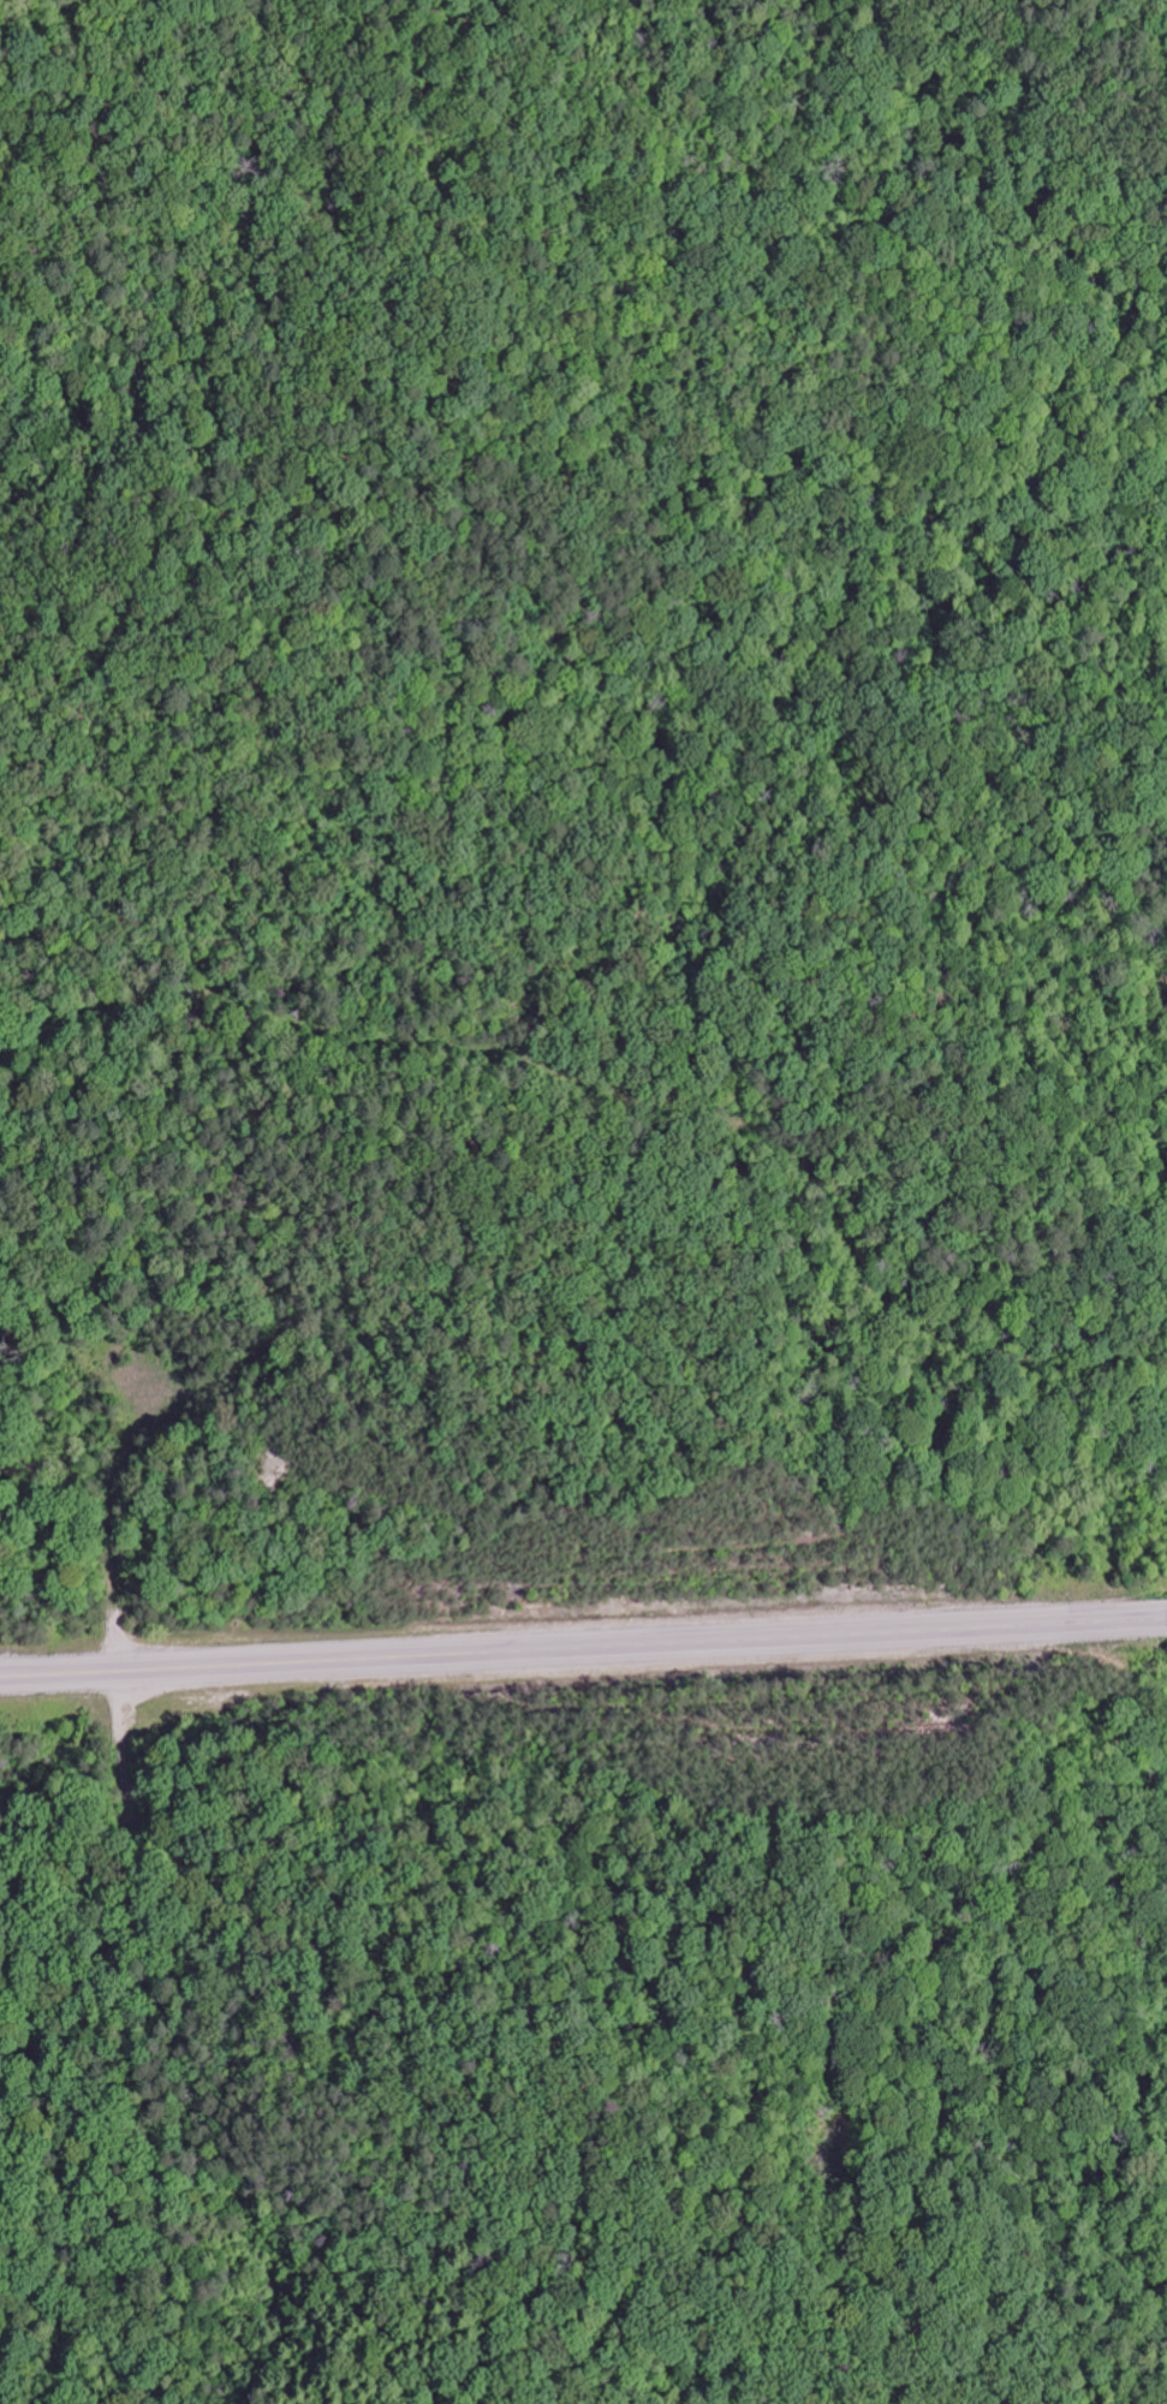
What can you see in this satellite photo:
road: (583, 1648)

